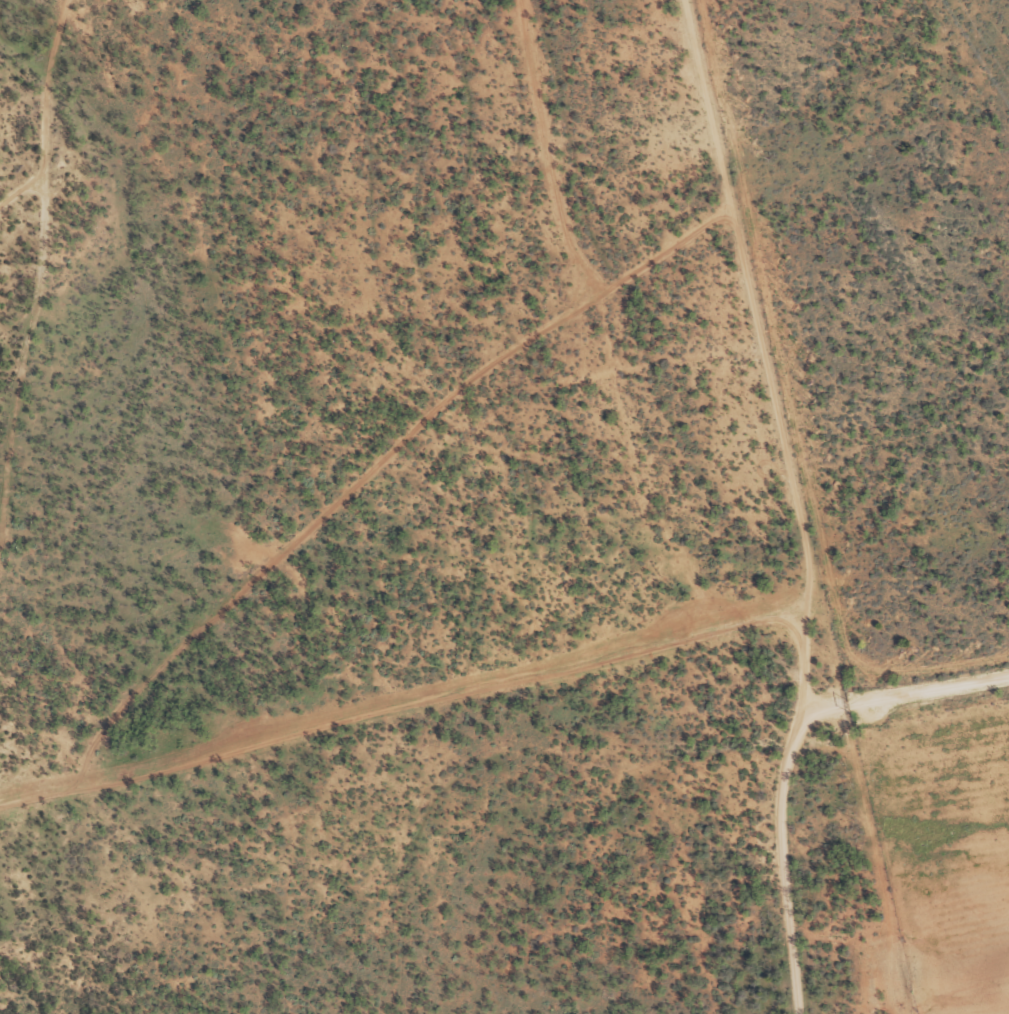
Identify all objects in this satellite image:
road: (806, 513)
road: (929, 689)

